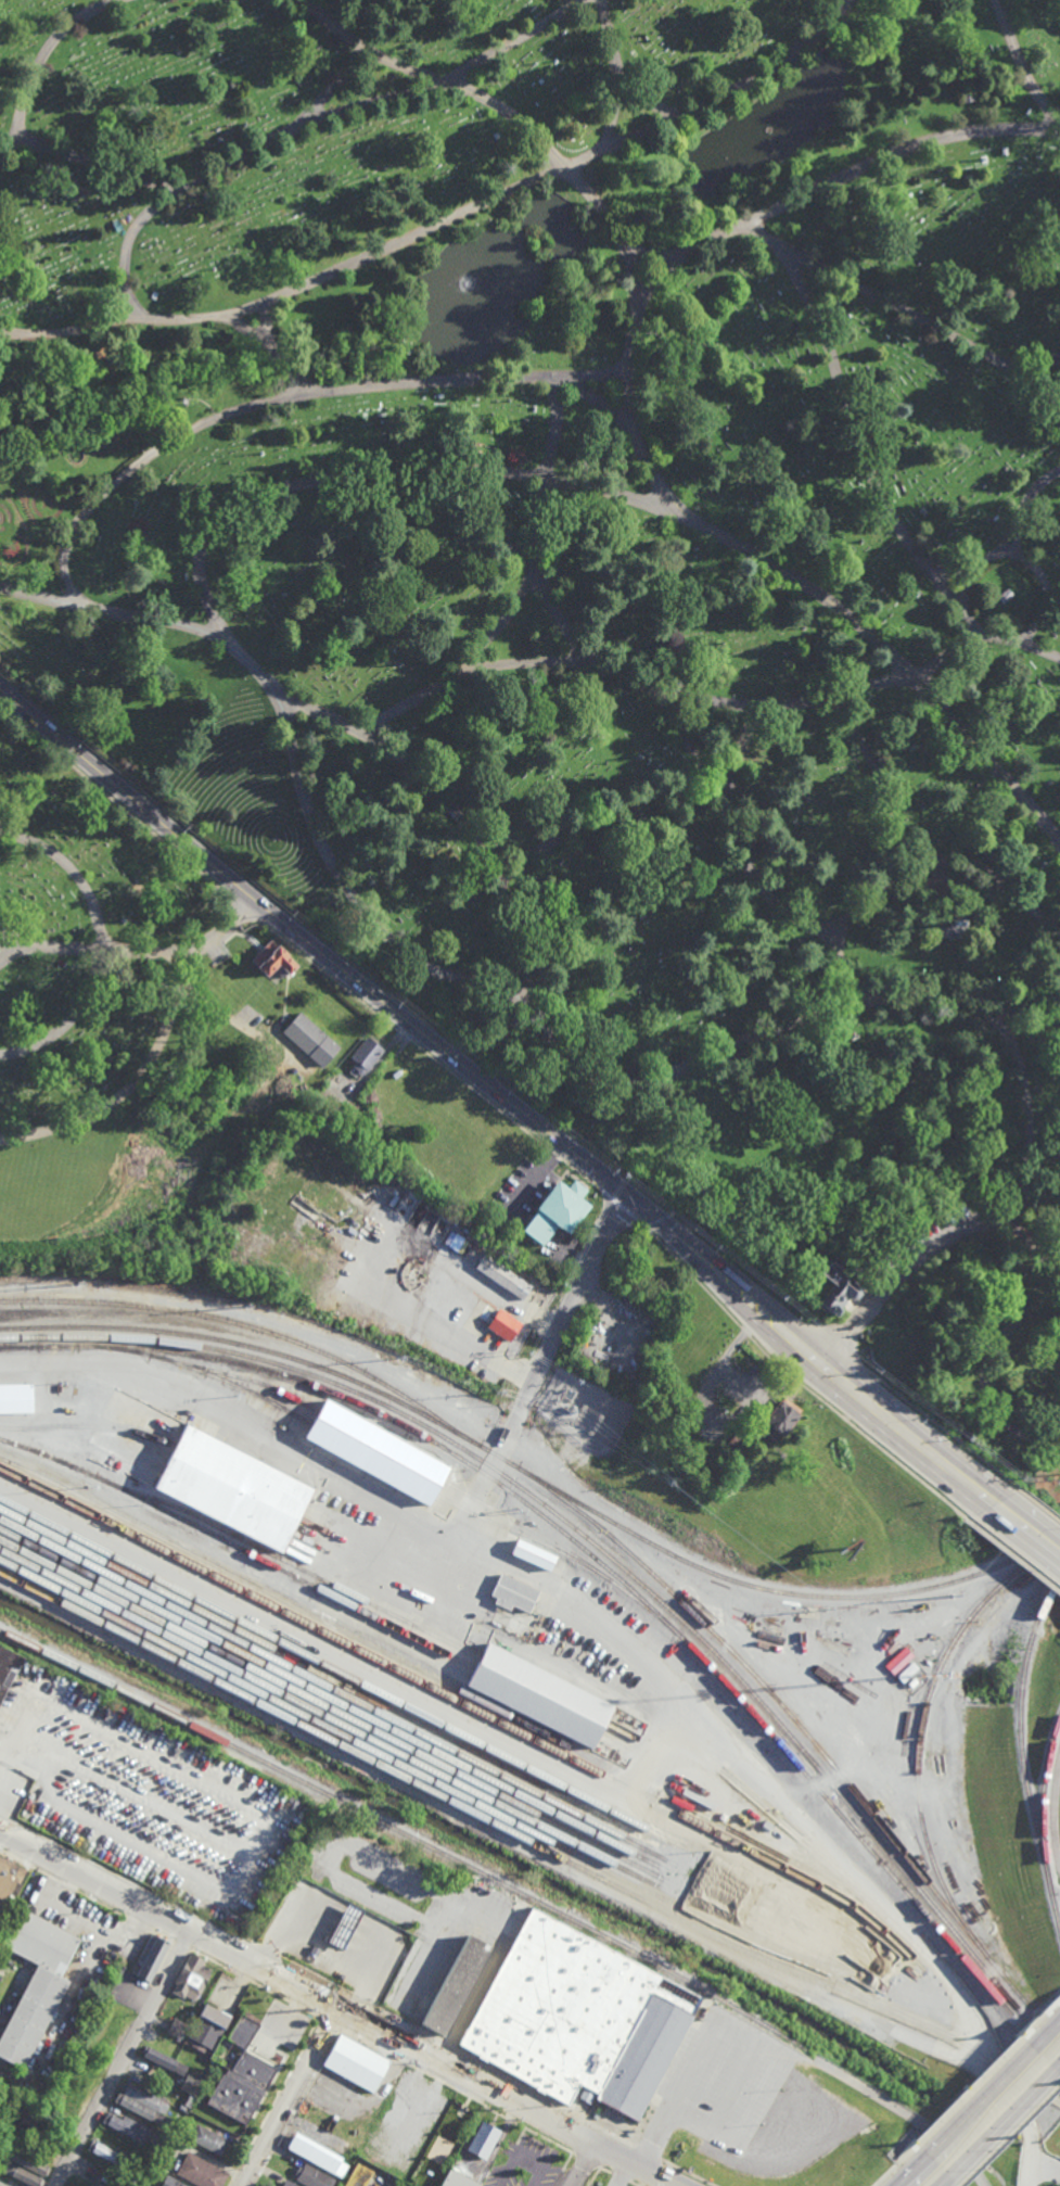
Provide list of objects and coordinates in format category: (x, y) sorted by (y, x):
road: (42, 58)
road: (1019, 65)
road: (621, 73)
road: (335, 86)
building: (967, 93)
road: (651, 99)
road: (322, 117)
fountain: (727, 157)
road: (94, 165)
road: (839, 178)
road: (445, 221)
road: (660, 277)
fountain: (469, 282)
road: (118, 307)
road: (136, 307)
road: (903, 313)
road: (268, 321)
road: (270, 345)
road: (1030, 364)
road: (294, 398)
road: (600, 403)
road: (631, 430)
road: (855, 437)
road: (378, 472)
road: (1026, 506)
park: (597, 571)
road: (948, 573)
road: (36, 596)
road: (1045, 609)
road: (1037, 648)
road: (946, 652)
road: (462, 664)
road: (610, 669)
park: (254, 801)
road: (643, 803)
road: (115, 804)
road: (733, 828)
flagpole: (272, 840)
road: (881, 844)
road: (981, 873)
road: (358, 900)
road: (247, 912)
building: (953, 924)
road: (99, 946)
road: (133, 948)
road: (9, 956)
building: (273, 957)
road: (378, 997)
road: (1020, 1006)
park: (131, 1014)
road: (542, 1020)
road: (404, 1035)
building: (311, 1038)
building: (366, 1054)
road: (140, 1085)
road: (554, 1154)
road: (580, 1172)
traffic signals: (627, 1192)
road: (616, 1202)
building: (557, 1209)
road: (659, 1220)
road: (641, 1225)
building: (454, 1241)
parking lot: (923, 1241)
road: (930, 1246)
road: (388, 1262)
road: (743, 1268)
building: (503, 1275)
road: (694, 1279)
building: (840, 1280)
road: (573, 1305)
road: (549, 1323)
building: (502, 1324)
railway: (253, 1329)
road: (744, 1333)
road: (840, 1347)
railway: (271, 1351)
road: (522, 1376)
road: (877, 1401)
power substation: (588, 1409)
road: (233, 1419)
building: (780, 1420)
road: (858, 1428)
road: (944, 1428)
railway: (347, 1444)
building: (740, 1445)
building: (378, 1453)
road: (487, 1476)
power tower: (668, 1482)
building: (233, 1489)
road: (1040, 1503)
railway: (497, 1512)
road: (1027, 1526)
railway: (590, 1543)
building: (526, 1553)
railway: (586, 1553)
road: (1014, 1555)
railway: (780, 1593)
building: (513, 1594)
power tower: (955, 1596)
power tower: (828, 1611)
railway: (394, 1615)
railway: (285, 1655)
road: (357, 1664)
railway: (408, 1664)
building: (8, 1666)
railway: (473, 1667)
railway: (349, 1680)
building: (538, 1695)
railway: (346, 1696)
railway: (344, 1705)
railway: (342, 1716)
railway: (922, 1719)
railway: (795, 1720)
railway: (340, 1725)
railway: (508, 1726)
railway: (337, 1733)
road: (729, 1749)
road: (13, 1750)
railway: (1020, 1753)
road: (0, 1801)
railway: (1042, 1804)
road: (1050, 1812)
railway: (476, 1816)
railway: (408, 1838)
road: (355, 1851)
road: (127, 1880)
building: (9, 1883)
road: (87, 1895)
gas station: (346, 1924)
building: (344, 1927)
road: (182, 1945)
building: (315, 1949)
road: (266, 1953)
building: (151, 1956)
building: (191, 1978)
building: (36, 1979)
road: (316, 1979)
road: (254, 1983)
building: (456, 1984)
road: (470, 2000)
road: (365, 2004)
road: (337, 2008)
building: (190, 2013)
building: (578, 2017)
road: (1042, 2019)
road: (329, 2023)
building: (177, 2028)
building: (207, 2028)
road: (1047, 2033)
building: (169, 2046)
road: (700, 2046)
road: (122, 2057)
building: (159, 2058)
building: (356, 2062)
road: (1009, 2066)
road: (1056, 2069)
building: (240, 2072)
road: (503, 2077)
building: (191, 2083)
road: (455, 2090)
road: (970, 2093)
road: (286, 2096)
building: (189, 2100)
road: (273, 2101)
road: (981, 2101)
building: (143, 2102)
building: (182, 2107)
road: (297, 2108)
building: (214, 2113)
road: (906, 2113)
building: (167, 2122)
road: (1001, 2125)
building: (128, 2126)
building: (39, 2128)
road: (1010, 2136)
building: (485, 2138)
building: (208, 2139)
road: (647, 2152)
building: (108, 2153)
building: (318, 2155)
road: (1030, 2159)
road: (586, 2160)
building: (28, 2163)
road: (587, 2166)
road: (896, 2166)
road: (914, 2171)
building: (202, 2172)
road: (1045, 2172)
road: (687, 2173)
building: (21, 2174)
building: (312, 2176)
building: (358, 2176)
road: (618, 2177)
building: (458, 2179)
building: (170, 2182)
road: (945, 2182)
building: (289, 2183)
building: (278, 2185)

